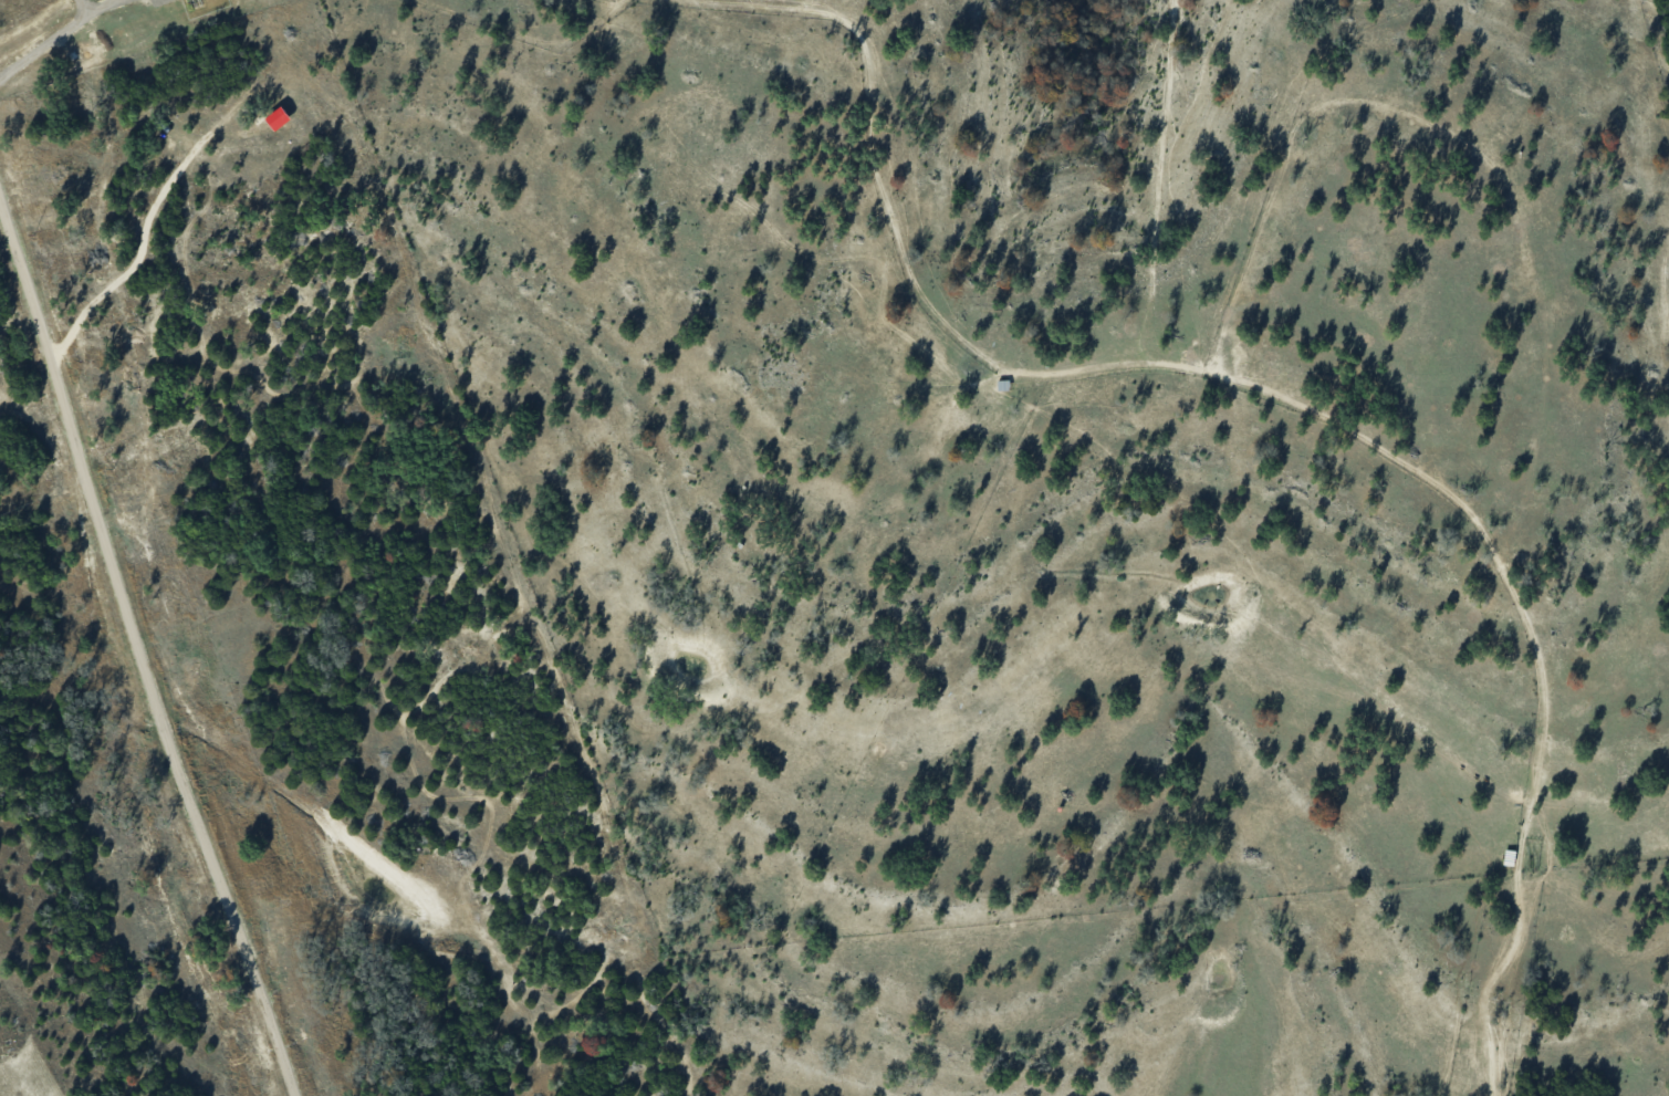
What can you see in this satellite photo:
road: (46, 42)
road: (138, 655)

